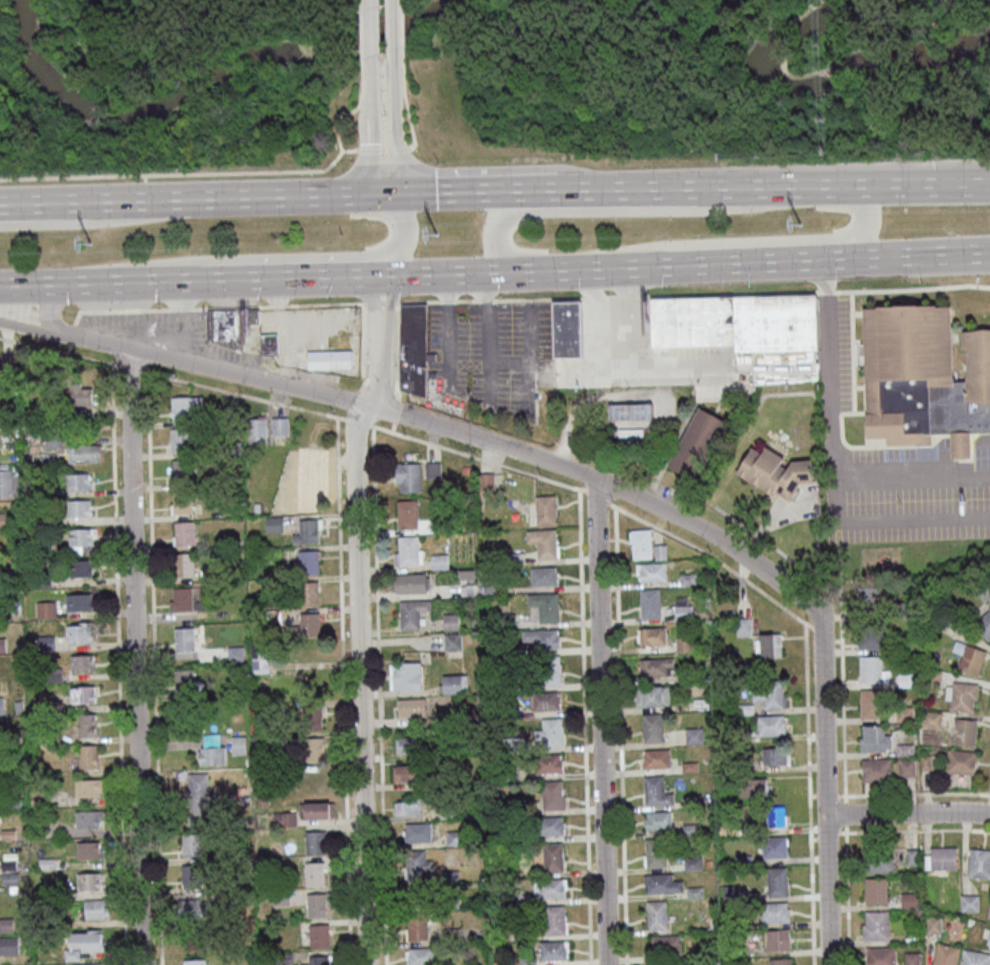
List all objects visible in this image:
road: (393, 23)
road: (405, 23)
road: (370, 27)
road: (363, 29)
river: (211, 72)
road: (364, 72)
river: (822, 76)
road: (406, 99)
road: (344, 117)
road: (395, 120)
road: (368, 126)
road: (399, 149)
road: (385, 150)
road: (369, 151)
road: (183, 173)
road: (878, 185)
road: (660, 189)
road: (477, 191)
traffic signals: (388, 192)
road: (243, 196)
road: (44, 202)
road: (605, 210)
road: (75, 222)
power tower: (802, 229)
power tower: (438, 238)
road: (748, 240)
power tower: (91, 248)
road: (917, 254)
road: (298, 256)
road: (959, 257)
road: (760, 261)
road: (549, 269)
road: (314, 277)
road: (102, 283)
road: (511, 299)
road: (47, 308)
building: (227, 322)
building: (690, 322)
building: (772, 323)
road: (26, 327)
building: (565, 329)
parking lot: (160, 330)
road: (175, 332)
road: (591, 334)
parking lot: (484, 341)
building: (266, 343)
building: (411, 348)
road: (466, 358)
building: (326, 359)
road: (525, 359)
building: (5, 360)
road: (621, 368)
road: (448, 375)
building: (921, 378)
building: (79, 395)
building: (182, 407)
building: (629, 411)
building: (194, 414)
building: (228, 414)
building: (277, 426)
building: (255, 431)
road: (453, 432)
building: (628, 435)
road: (828, 436)
building: (50, 440)
building: (179, 440)
building: (695, 444)
building: (79, 454)
building: (301, 461)
building: (464, 469)
building: (431, 470)
building: (181, 471)
building: (773, 472)
building: (406, 476)
building: (8, 479)
building: (76, 481)
building: (484, 481)
road: (582, 488)
building: (304, 491)
building: (41, 492)
parking lot: (906, 493)
building: (181, 502)
building: (253, 507)
building: (76, 508)
building: (544, 510)
building: (405, 516)
building: (47, 517)
building: (6, 520)
building: (272, 524)
building: (441, 525)
building: (305, 531)
building: (182, 532)
building: (79, 536)
building: (542, 542)
building: (236, 543)
building: (639, 544)
building: (43, 547)
building: (407, 551)
building: (659, 552)
building: (509, 559)
building: (438, 561)
building: (307, 562)
building: (182, 564)
building: (79, 567)
building: (651, 571)
building: (465, 575)
building: (541, 576)
building: (686, 579)
building: (42, 580)
building: (410, 583)
building: (466, 589)
building: (981, 590)
building: (306, 593)
building: (196, 598)
building: (180, 599)
building: (867, 600)
building: (76, 602)
building: (648, 604)
building: (543, 606)
building: (43, 609)
building: (902, 610)
building: (681, 612)
building: (410, 613)
building: (271, 617)
road: (360, 617)
building: (933, 619)
building: (506, 620)
building: (449, 621)
building: (983, 624)
building: (306, 626)
building: (742, 626)
building: (76, 633)
building: (869, 635)
building: (651, 636)
building: (540, 638)
building: (182, 639)
building: (44, 642)
building: (451, 642)
building: (1, 644)
building: (682, 644)
building: (29, 646)
building: (767, 646)
building: (508, 650)
building: (233, 653)
road: (136, 656)
building: (257, 657)
building: (967, 658)
building: (80, 662)
building: (655, 667)
building: (549, 670)
building: (870, 670)
building: (51, 674)
building: (694, 674)
building: (403, 676)
building: (930, 679)
building: (904, 680)
building: (184, 681)
building: (508, 681)
building: (453, 684)
building: (80, 694)
building: (768, 694)
building: (650, 696)
building: (961, 696)
building: (544, 700)
building: (699, 703)
building: (870, 704)
building: (0, 705)
building: (16, 705)
building: (47, 706)
building: (409, 707)
building: (744, 709)
building: (503, 712)
building: (903, 713)
building: (309, 717)
building: (929, 719)
road: (601, 721)
building: (84, 724)
building: (768, 725)
building: (651, 728)
building: (908, 731)
building: (548, 732)
building: (963, 732)
building: (692, 735)
building: (742, 735)
building: (16, 739)
building: (41, 739)
building: (210, 740)
building: (872, 741)
building: (407, 744)
building: (234, 745)
building: (510, 745)
building: (312, 749)
building: (902, 750)
building: (210, 755)
building: (86, 756)
building: (773, 756)
building: (654, 758)
building: (743, 761)
building: (245, 762)
building: (549, 762)
building: (923, 762)
building: (932, 762)
building: (959, 762)
building: (688, 767)
building: (904, 768)
building: (874, 770)
building: (1, 771)
building: (30, 771)
building: (406, 772)
building: (507, 773)
building: (179, 774)
building: (86, 786)
building: (755, 787)
road: (825, 788)
building: (654, 791)
building: (551, 795)
building: (196, 800)
building: (691, 800)
building: (32, 801)
building: (9, 802)
building: (406, 807)
building: (312, 809)
building: (445, 810)
road: (908, 814)
building: (773, 815)
building: (284, 817)
building: (86, 818)
building: (656, 820)
building: (548, 826)
building: (689, 828)
building: (739, 830)
building: (416, 832)
building: (6, 834)
building: (452, 837)
building: (314, 842)
building: (190, 844)
building: (772, 847)
building: (86, 849)
building: (653, 853)
building: (551, 857)
building: (909, 857)
building: (941, 858)
building: (741, 859)
building: (876, 861)
building: (690, 862)
building: (706, 862)
building: (44, 863)
building: (6, 864)
building: (415, 864)
building: (978, 864)
building: (313, 874)
building: (449, 875)
building: (190, 876)
building: (8, 878)
building: (89, 881)
building: (775, 882)
building: (660, 884)
building: (547, 888)
building: (46, 891)
building: (692, 891)
building: (873, 891)
building: (729, 893)
building: (416, 894)
building: (510, 896)
building: (279, 897)
building: (907, 900)
building: (449, 902)
building: (967, 903)
building: (314, 905)
building: (204, 906)
building: (189, 908)
building: (93, 909)
building: (987, 911)
building: (772, 912)
building: (655, 915)
building: (553, 920)
building: (60, 923)
building: (6, 924)
building: (735, 924)
building: (931, 925)
building: (415, 926)
building: (874, 926)
building: (515, 934)
building: (448, 935)
building: (317, 936)
building: (988, 938)
building: (84, 940)
building: (775, 940)
building: (8, 944)
building: (663, 945)
building: (550, 951)
building: (69, 955)
building: (943, 955)
building: (419, 956)
building: (878, 956)
building: (281, 958)
building: (910, 958)
building: (973, 958)
building: (318, 960)
building: (193, 961)
building: (525, 961)
building: (777, 961)
building: (493, 963)
building: (86, 964)
building: (734, 964)

